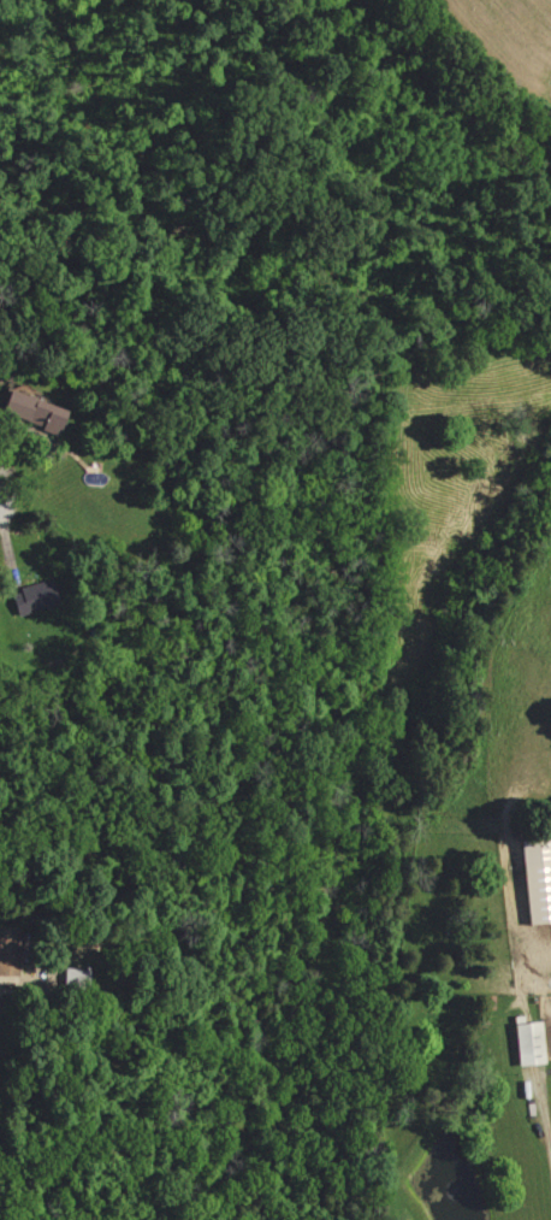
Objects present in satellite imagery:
building: (34, 411)
building: (31, 597)
building: (534, 879)
building: (8, 950)
building: (526, 1043)
road: (541, 1133)

